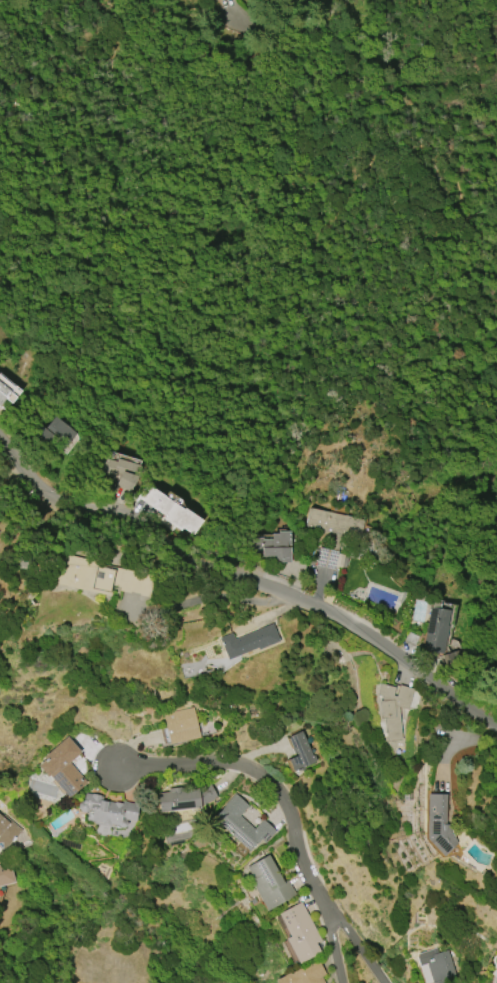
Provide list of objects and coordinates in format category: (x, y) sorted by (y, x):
building: (209, 0)
building: (240, 24)
building: (3, 393)
building: (60, 435)
building: (124, 473)
building: (170, 511)
building: (331, 534)
building: (273, 546)
building: (100, 577)
road: (250, 577)
road: (192, 600)
building: (436, 629)
building: (248, 641)
building: (395, 708)
building: (180, 726)
building: (300, 752)
building: (63, 767)
road: (255, 771)
building: (185, 798)
building: (108, 811)
building: (240, 824)
building: (438, 825)
building: (7, 832)
building: (5, 874)
building: (269, 883)
building: (300, 933)
road: (330, 937)
road: (351, 937)
building: (436, 967)
building: (305, 974)

